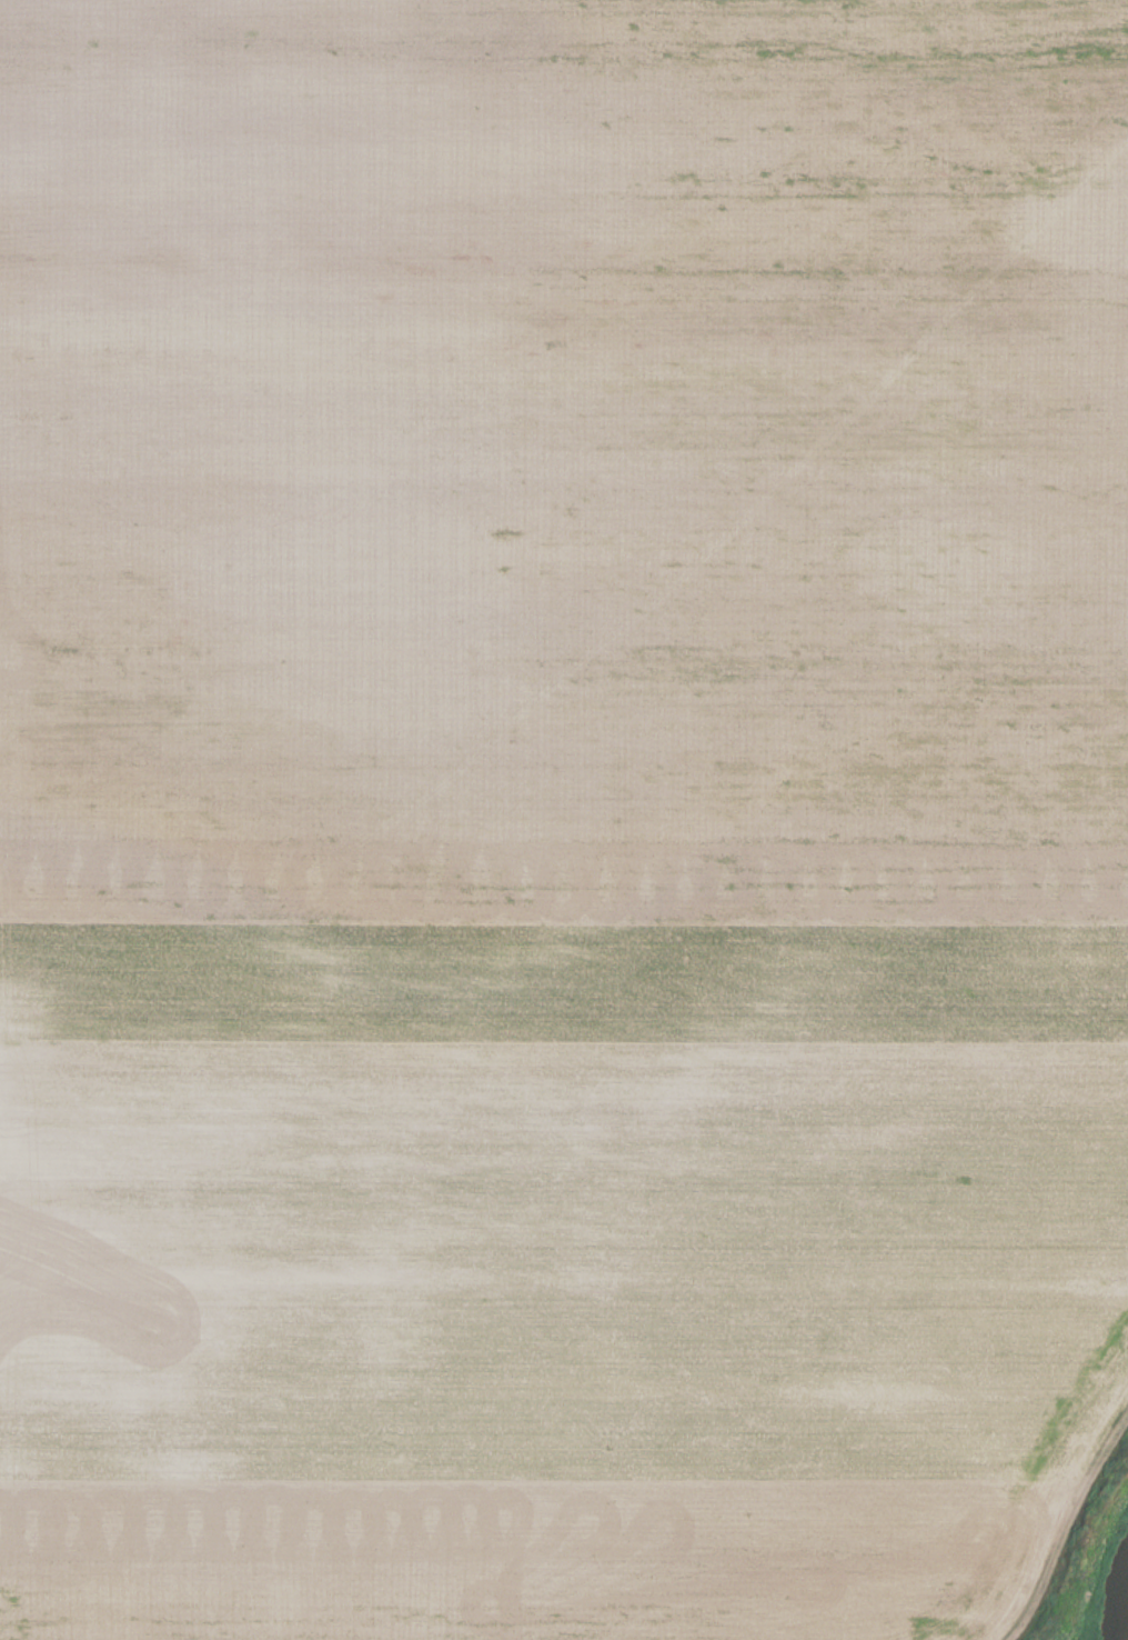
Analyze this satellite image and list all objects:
road: (1067, 1527)

